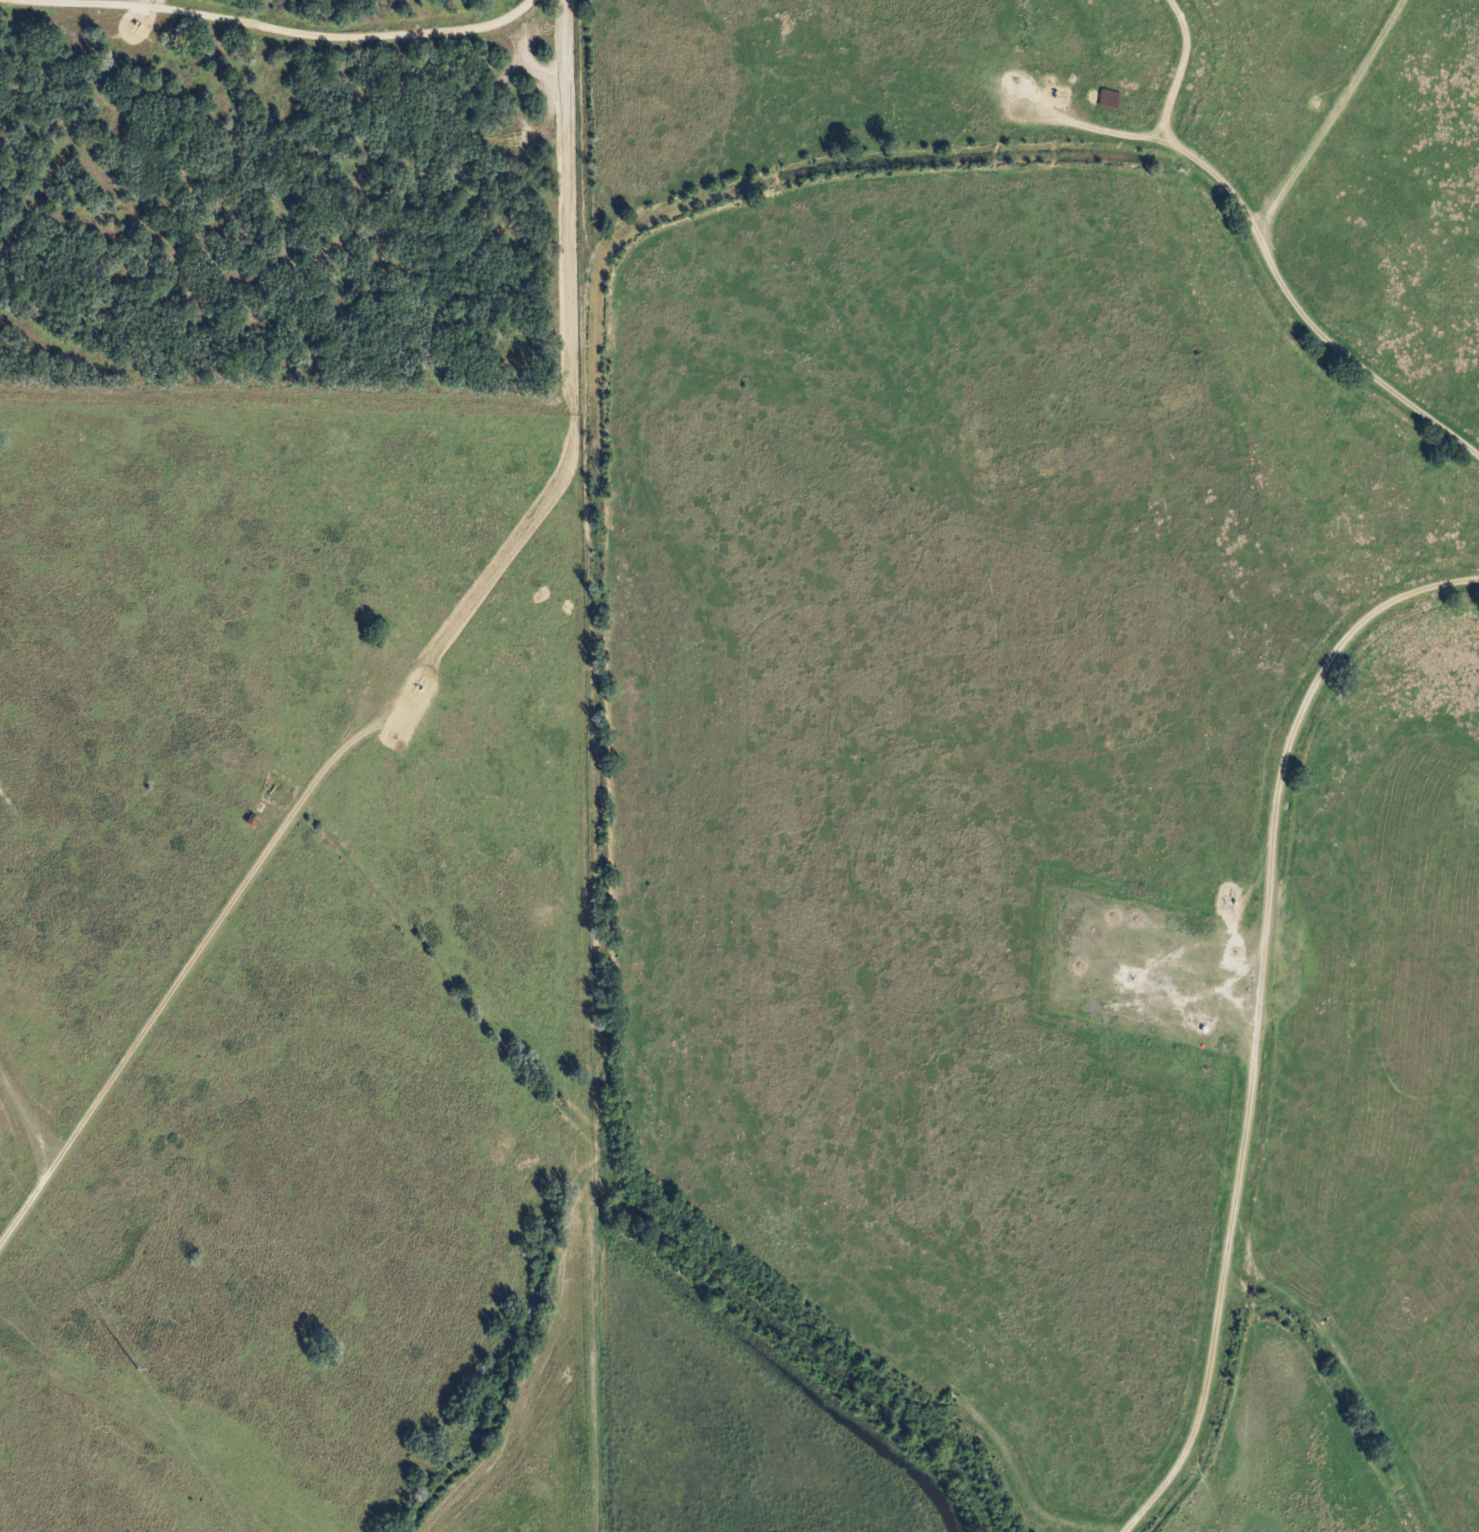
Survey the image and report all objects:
road: (119, 9)
road: (1268, 250)
road: (190, 962)
road: (1262, 1014)

